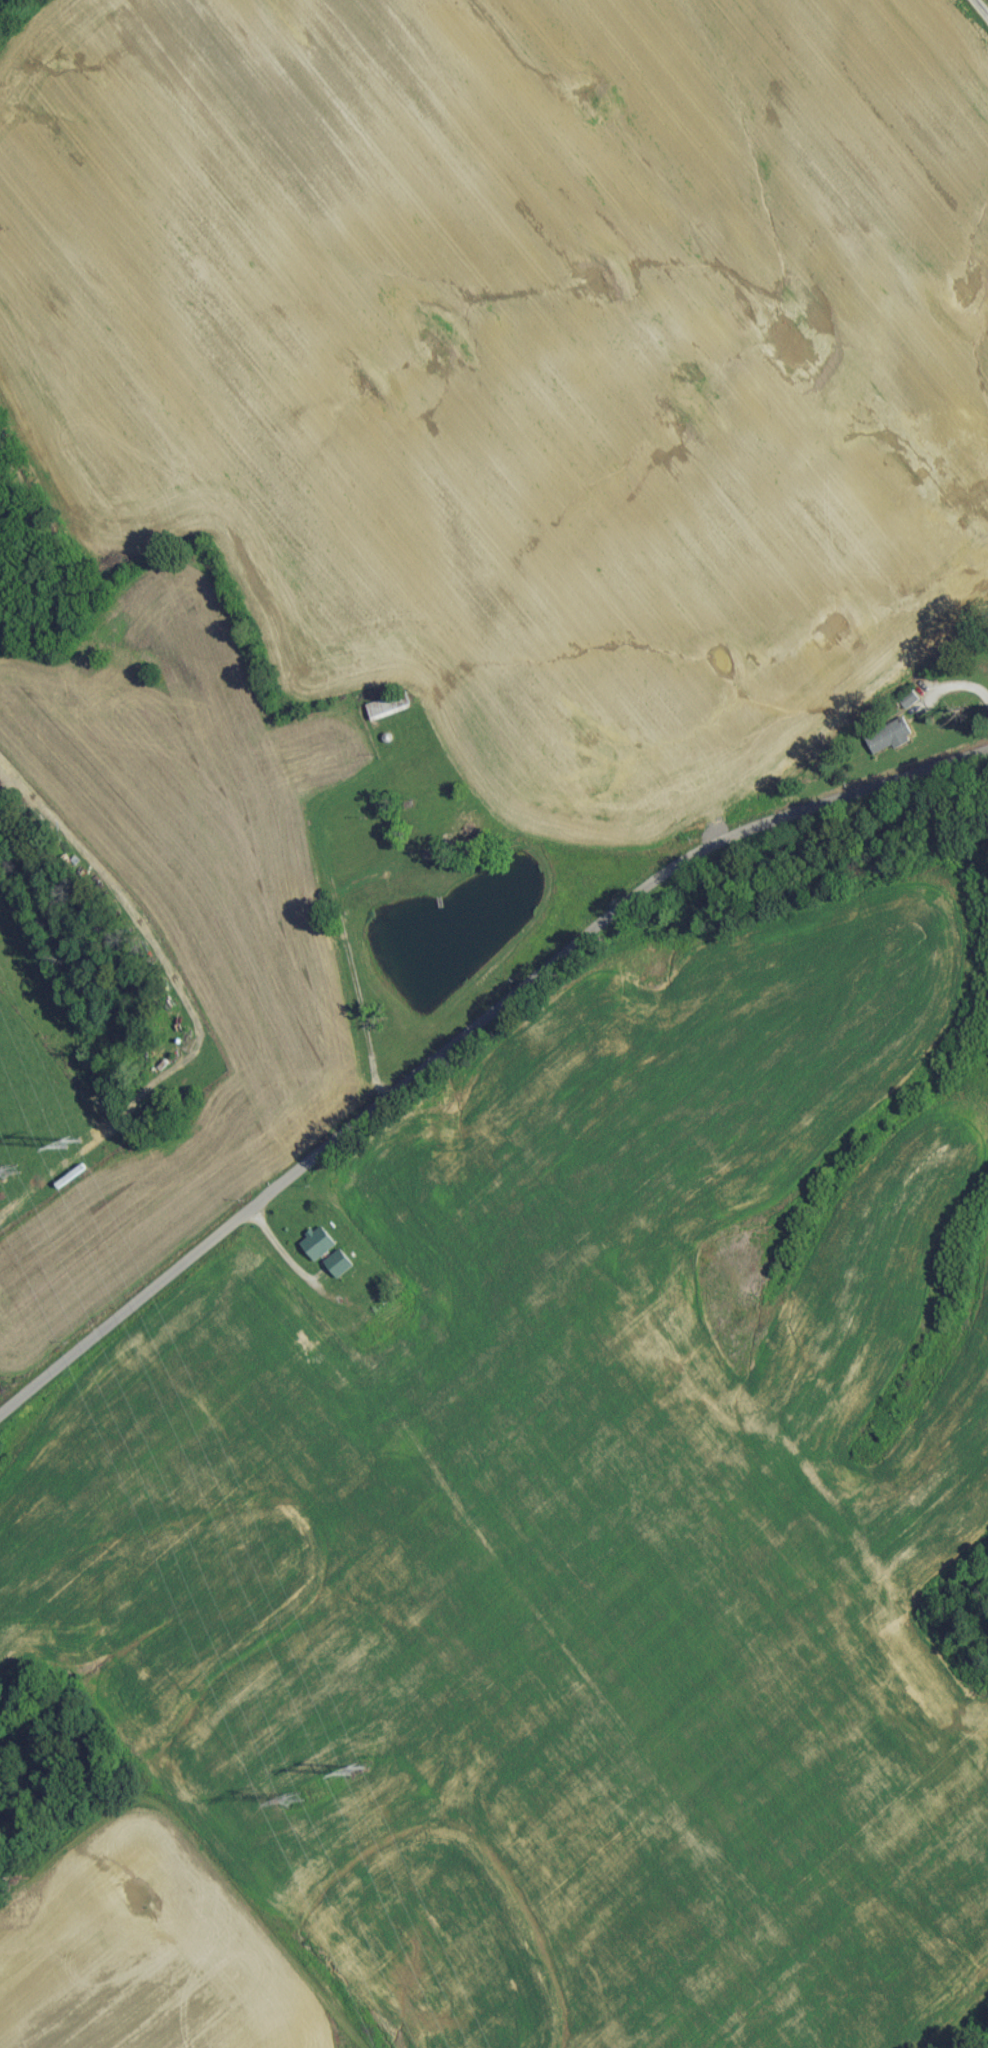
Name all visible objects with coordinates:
road: (978, 11)
building: (391, 712)
building: (893, 743)
building: (0, 795)
road: (353, 965)
road: (465, 1033)
power tower: (74, 1149)
power tower: (14, 1178)
road: (280, 1249)
building: (320, 1249)
building: (341, 1269)
power tower: (355, 1780)
power tower: (295, 1808)

